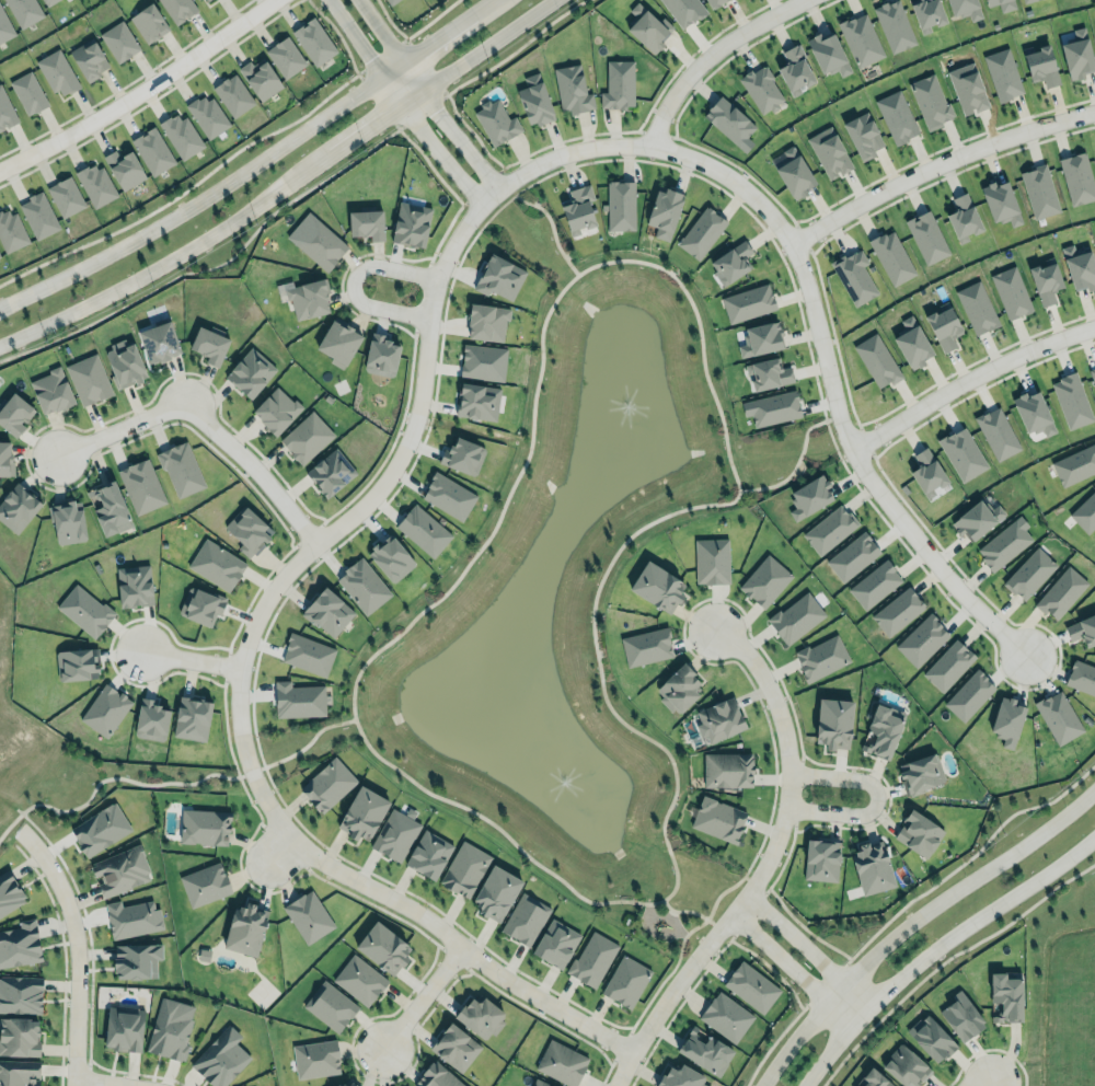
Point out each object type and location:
building: (47, 1)
building: (204, 1)
building: (392, 1)
building: (1026, 1)
building: (714, 2)
building: (1001, 4)
road: (481, 7)
building: (178, 8)
building: (965, 8)
building: (24, 11)
building: (683, 11)
building: (926, 14)
building: (149, 21)
building: (894, 24)
building: (4, 26)
building: (648, 26)
road: (381, 31)
road: (356, 37)
road: (437, 37)
building: (314, 39)
building: (861, 39)
building: (119, 41)
road: (514, 47)
building: (828, 53)
building: (1075, 53)
road: (707, 54)
building: (286, 56)
building: (89, 58)
building: (1041, 65)
road: (392, 68)
building: (57, 70)
building: (795, 70)
building: (1003, 72)
building: (261, 78)
building: (618, 83)
building: (572, 88)
building: (761, 89)
building: (967, 89)
building: (27, 91)
road: (140, 91)
building: (233, 93)
building: (929, 99)
building: (534, 101)
building: (5, 109)
road: (422, 109)
building: (207, 114)
building: (896, 115)
building: (728, 118)
building: (495, 120)
road: (449, 126)
road: (616, 131)
road: (656, 131)
building: (181, 134)
building: (863, 135)
road: (429, 141)
building: (152, 149)
building: (829, 152)
road: (936, 164)
building: (124, 166)
building: (794, 173)
building: (1074, 177)
road: (481, 181)
building: (95, 183)
road: (284, 186)
building: (1039, 192)
building: (65, 195)
road: (197, 201)
building: (1000, 201)
building: (620, 205)
road: (779, 205)
building: (579, 210)
building: (664, 210)
building: (38, 212)
building: (960, 216)
building: (367, 222)
building: (410, 223)
road: (551, 228)
building: (11, 230)
building: (699, 231)
road: (802, 236)
building: (926, 236)
building: (314, 241)
building: (891, 257)
building: (731, 263)
road: (212, 265)
building: (1080, 267)
building: (853, 274)
building: (496, 277)
road: (351, 281)
building: (1045, 281)
road: (566, 284)
building: (1008, 291)
building: (304, 294)
road: (423, 297)
road: (811, 301)
building: (746, 302)
building: (977, 308)
road: (828, 315)
building: (486, 322)
building: (942, 325)
road: (805, 335)
building: (759, 338)
building: (338, 339)
building: (158, 340)
building: (912, 343)
building: (209, 345)
building: (380, 355)
building: (876, 360)
building: (123, 361)
building: (480, 362)
building: (249, 372)
building: (766, 373)
building: (1092, 373)
road: (968, 378)
building: (87, 379)
building: (50, 391)
building: (1071, 401)
building: (476, 402)
building: (276, 408)
building: (772, 408)
building: (1033, 412)
fountain: (627, 413)
building: (14, 414)
road: (204, 421)
building: (995, 432)
building: (306, 437)
road: (865, 441)
building: (960, 452)
building: (462, 454)
building: (5, 458)
building: (1075, 463)
road: (793, 466)
building: (181, 469)
building: (328, 472)
building: (926, 473)
building: (141, 486)
building: (809, 494)
building: (448, 496)
building: (107, 507)
building: (18, 508)
building: (1084, 512)
building: (977, 519)
building: (65, 522)
building: (829, 529)
building: (247, 530)
road: (308, 530)
building: (420, 530)
building: (1004, 544)
road: (285, 554)
building: (851, 556)
building: (391, 558)
building: (711, 561)
building: (214, 564)
building: (1028, 571)
building: (763, 581)
building: (874, 585)
building: (134, 586)
building: (362, 586)
building: (657, 587)
building: (1061, 592)
building: (201, 604)
building: (84, 610)
building: (326, 611)
building: (896, 611)
building: (794, 616)
building: (1082, 629)
building: (921, 640)
building: (645, 646)
building: (308, 654)
building: (821, 657)
road: (189, 659)
building: (76, 663)
building: (946, 665)
road: (224, 666)
building: (1081, 677)
road: (238, 690)
building: (679, 690)
building: (968, 693)
building: (298, 700)
building: (105, 709)
building: (1056, 715)
building: (189, 716)
building: (721, 717)
building: (151, 720)
building: (1006, 721)
building: (833, 724)
building: (884, 729)
road: (309, 740)
road: (774, 759)
building: (728, 769)
road: (251, 770)
building: (920, 773)
road: (105, 777)
fountain: (574, 777)
building: (326, 783)
road: (798, 787)
road: (875, 796)
building: (361, 813)
building: (719, 818)
building: (205, 827)
building: (100, 829)
building: (917, 832)
building: (394, 835)
road: (284, 844)
road: (279, 850)
building: (428, 854)
road: (970, 855)
building: (819, 859)
road: (765, 866)
building: (872, 866)
building: (120, 869)
building: (464, 869)
road: (757, 879)
building: (205, 883)
building: (9, 891)
building: (495, 891)
road: (682, 909)
road: (749, 912)
building: (308, 916)
building: (132, 919)
building: (525, 919)
road: (910, 919)
road: (718, 926)
building: (245, 927)
road: (77, 936)
road: (809, 940)
building: (555, 943)
road: (930, 944)
building: (20, 945)
building: (383, 947)
road: (62, 950)
road: (451, 957)
road: (947, 958)
building: (136, 960)
road: (789, 960)
building: (588, 961)
road: (705, 968)
road: (91, 977)
building: (357, 980)
building: (624, 981)
road: (823, 981)
building: (749, 986)
building: (20, 993)
road: (422, 996)
building: (1002, 998)
building: (328, 1005)
building: (726, 1016)
building: (480, 1017)
building: (959, 1017)
building: (170, 1027)
building: (124, 1028)
building: (19, 1036)
building: (929, 1040)
road: (619, 1044)
road: (771, 1044)
building: (454, 1045)
road: (989, 1047)
building: (704, 1051)
building: (220, 1058)
building: (315, 1058)
building: (562, 1062)
building: (902, 1067)
building: (18, 1072)
road: (88, 1072)
building: (437, 1076)
building: (679, 1076)
building: (869, 1079)
road: (980, 1081)
road: (97, 1083)
building: (540, 1083)
building: (351, 1084)

